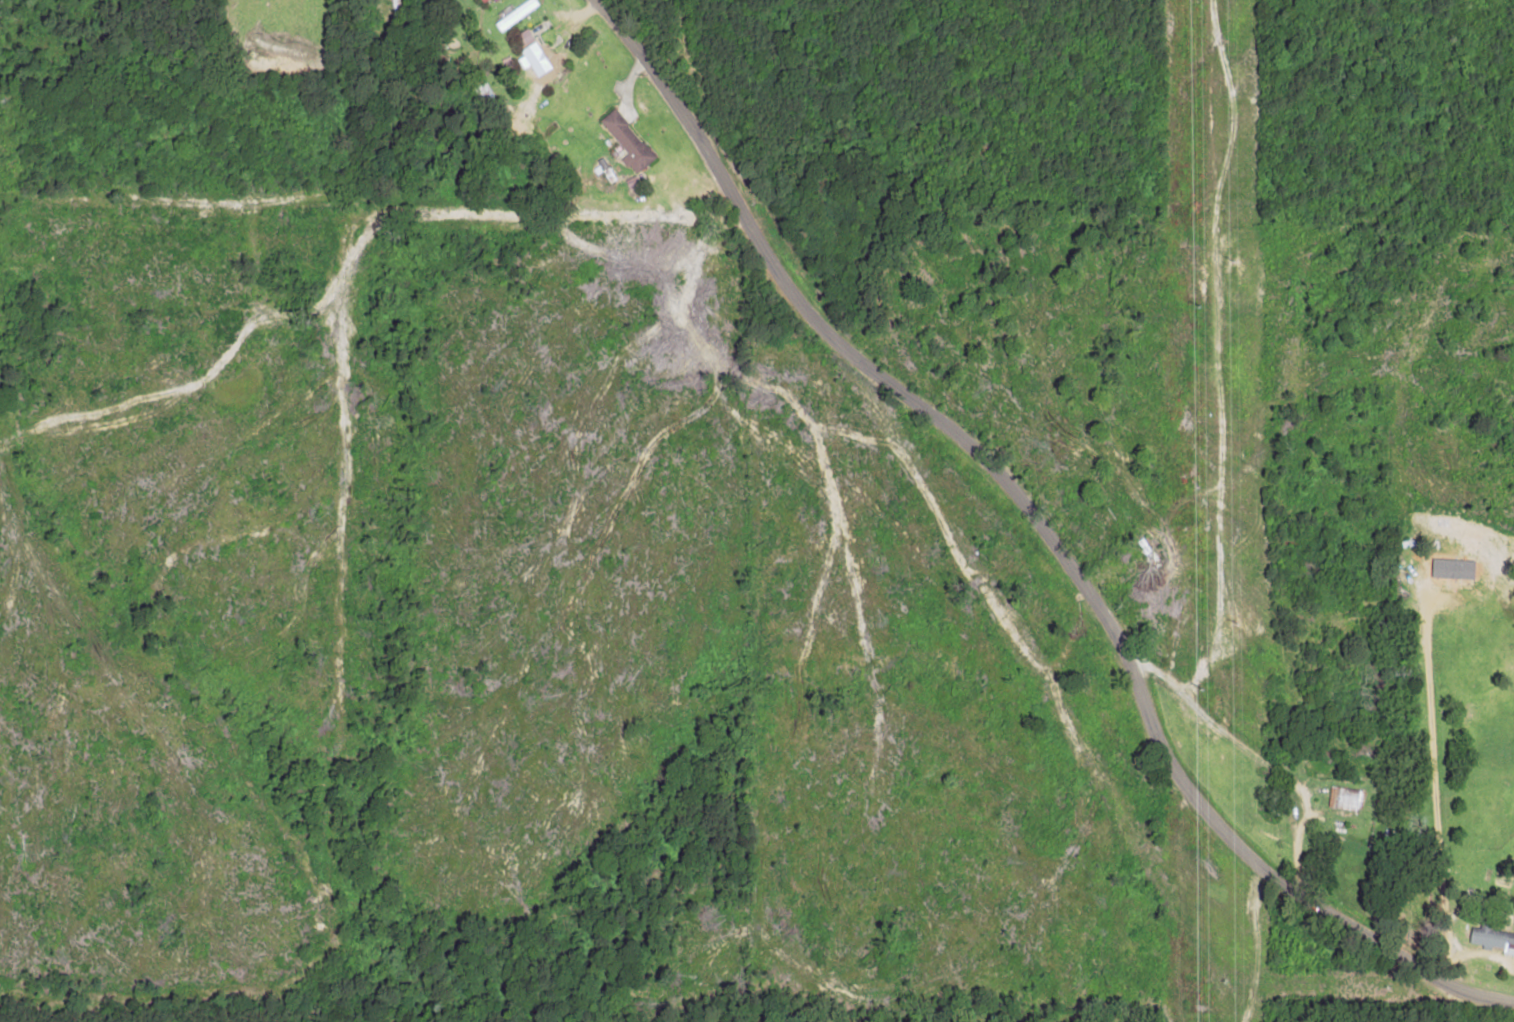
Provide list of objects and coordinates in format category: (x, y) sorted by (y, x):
building: (485, 1)
building: (515, 13)
building: (535, 52)
building: (626, 140)
road: (760, 385)
road: (723, 425)
road: (1032, 537)
building: (1449, 579)
building: (1343, 798)
building: (1493, 939)

